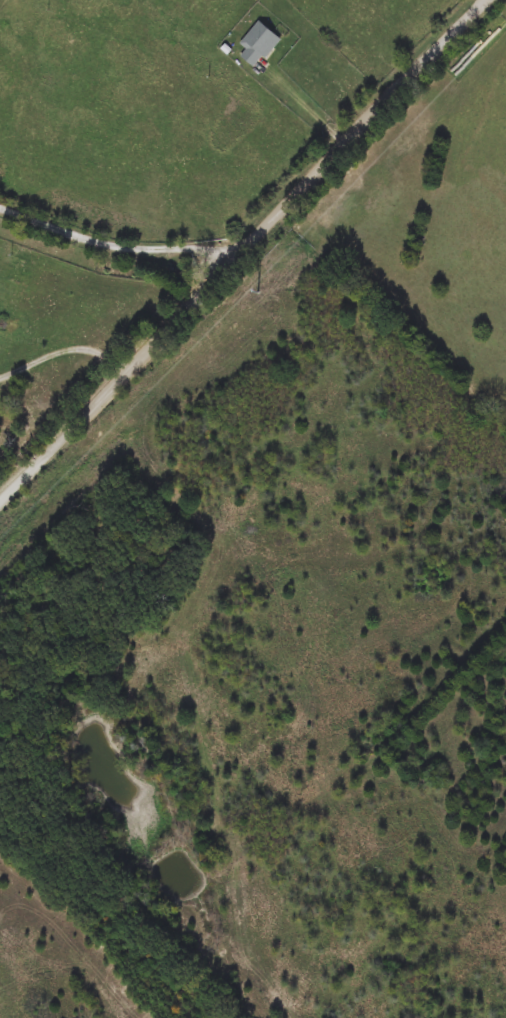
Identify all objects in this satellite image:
road: (356, 32)
building: (258, 45)
road: (105, 244)
road: (248, 246)
road: (232, 248)
road: (62, 351)

